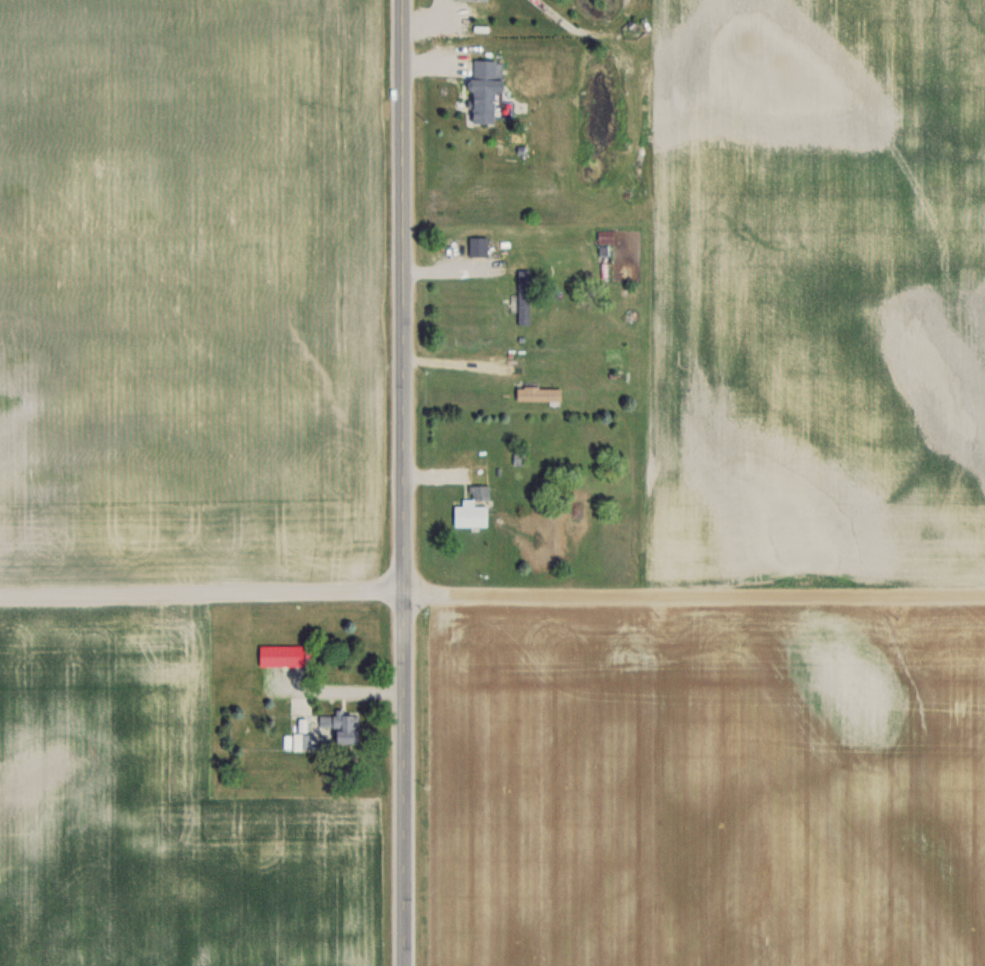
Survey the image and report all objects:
building: (482, 89)
building: (604, 236)
road: (402, 296)
building: (523, 297)
building: (537, 394)
building: (473, 499)
road: (694, 593)
road: (202, 594)
building: (282, 655)
building: (337, 725)
road: (404, 779)

